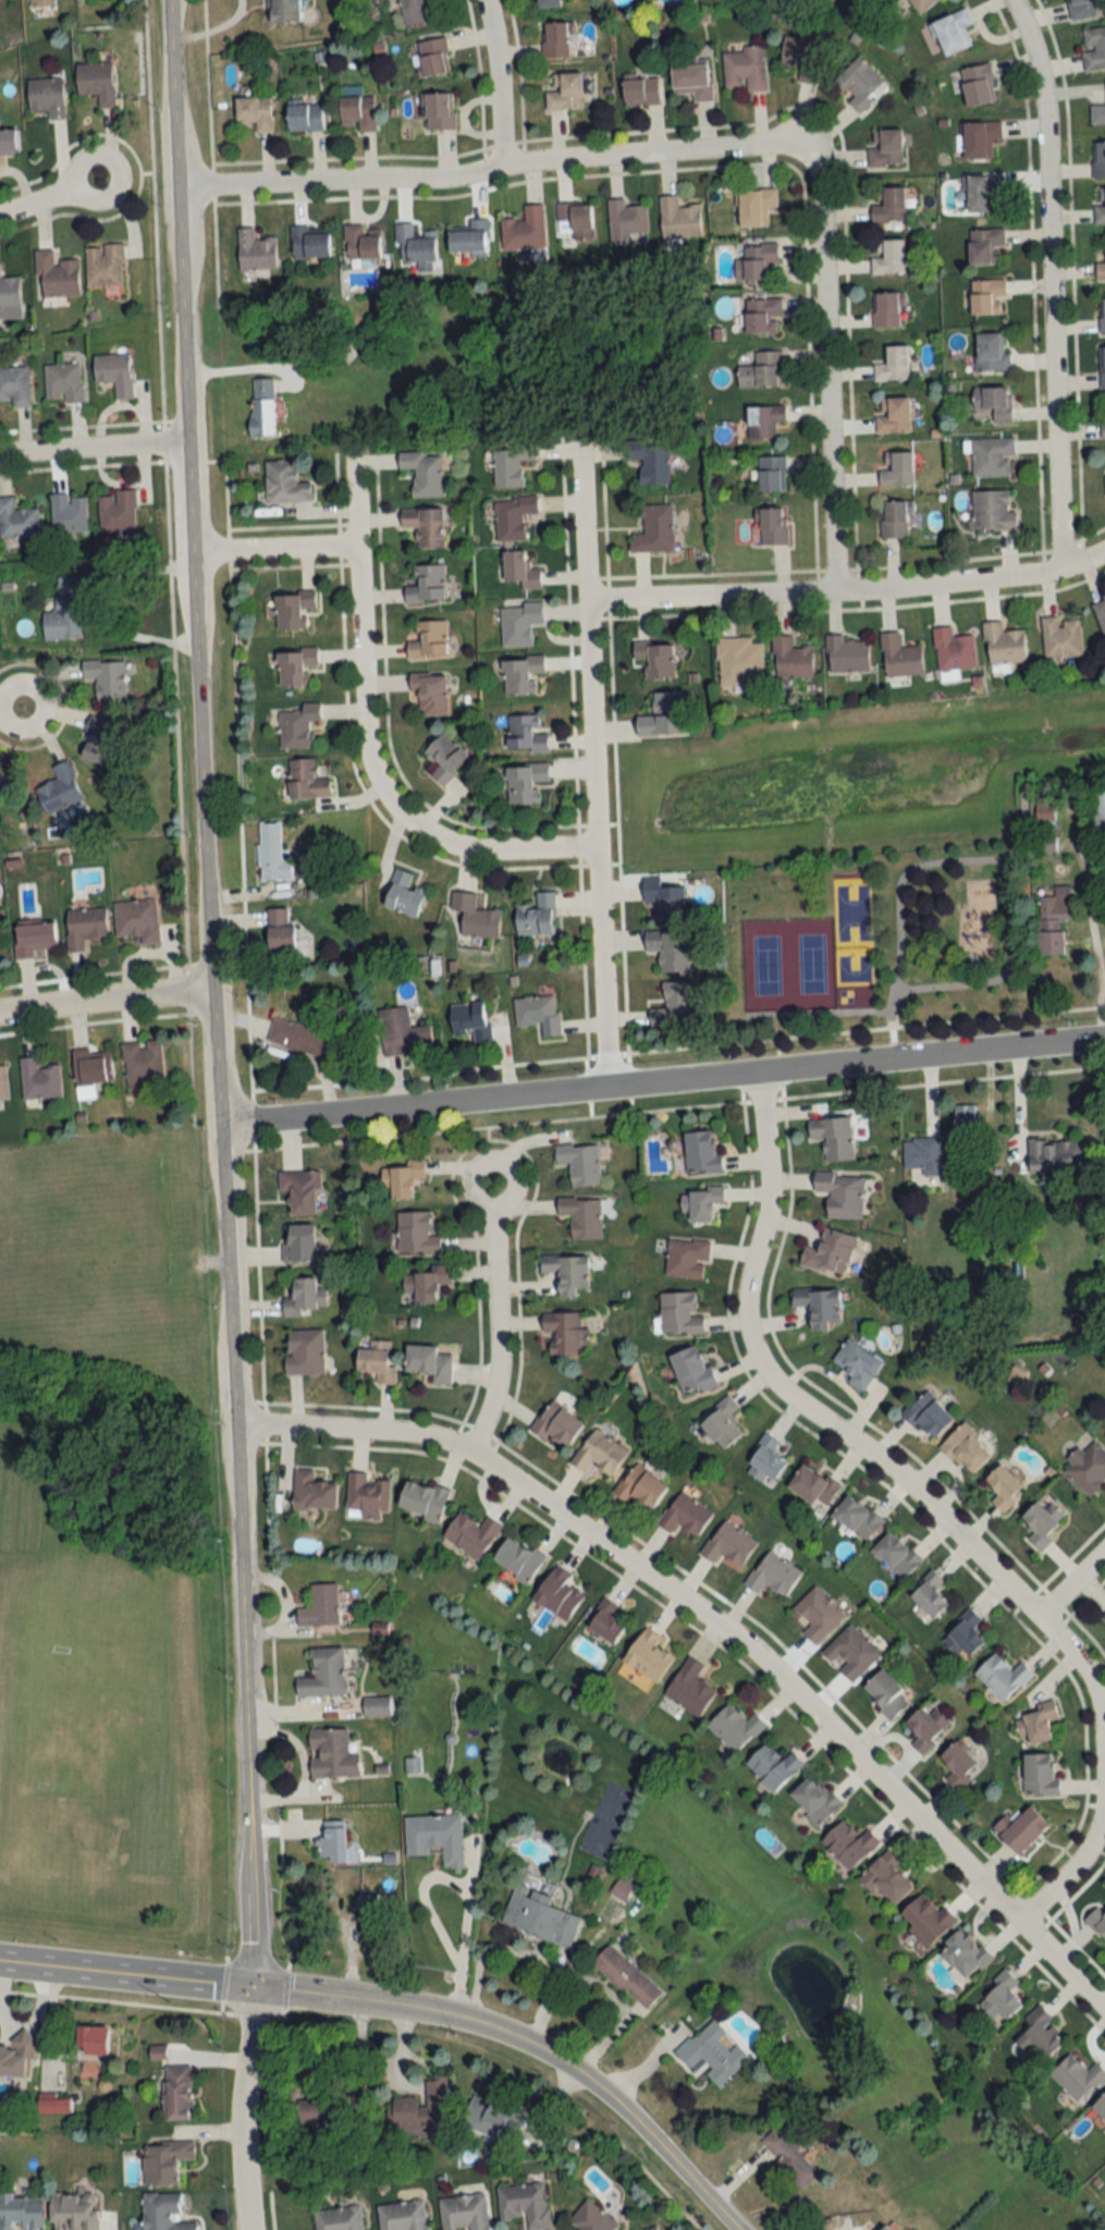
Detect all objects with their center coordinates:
building: (26, 0)
building: (50, 0)
building: (391, 0)
building: (547, 3)
building: (921, 4)
building: (1084, 9)
building: (284, 11)
building: (416, 11)
road: (213, 26)
building: (951, 33)
building: (555, 40)
building: (1093, 48)
building: (800, 57)
building: (433, 58)
building: (745, 69)
building: (692, 81)
building: (96, 83)
road: (494, 84)
building: (858, 84)
building: (978, 85)
building: (640, 91)
building: (565, 93)
building: (47, 98)
building: (357, 112)
building: (438, 112)
building: (254, 114)
building: (1097, 115)
building: (305, 118)
building: (980, 140)
building: (9, 143)
building: (885, 148)
building: (1098, 161)
road: (493, 171)
building: (982, 193)
road: (47, 195)
building: (887, 206)
building: (1098, 206)
building: (754, 207)
building: (678, 218)
building: (627, 220)
building: (574, 222)
building: (524, 229)
building: (470, 237)
building: (309, 243)
building: (361, 243)
building: (416, 244)
building: (986, 246)
building: (255, 250)
building: (887, 257)
building: (757, 262)
building: (103, 264)
building: (1101, 268)
building: (56, 274)
road: (1047, 281)
building: (9, 292)
building: (987, 296)
building: (886, 309)
building: (1102, 314)
building: (762, 315)
building: (991, 351)
building: (895, 362)
building: (1103, 365)
building: (762, 369)
building: (114, 371)
road: (824, 372)
building: (63, 381)
building: (14, 384)
building: (992, 403)
building: (261, 406)
building: (894, 414)
building: (763, 419)
building: (1103, 429)
road: (95, 449)
building: (992, 456)
building: (650, 460)
building: (509, 465)
building: (896, 467)
building: (422, 471)
building: (771, 471)
building: (284, 482)
building: (993, 510)
building: (118, 511)
building: (67, 512)
building: (512, 516)
building: (16, 518)
building: (895, 518)
building: (423, 525)
building: (769, 525)
building: (654, 529)
road: (273, 550)
road: (168, 562)
building: (519, 569)
building: (425, 583)
road: (847, 590)
road: (836, 601)
building: (293, 608)
building: (63, 610)
building: (1101, 614)
building: (518, 622)
building: (1060, 637)
building: (428, 639)
building: (1003, 642)
building: (953, 648)
building: (846, 653)
building: (899, 657)
building: (656, 658)
building: (790, 658)
building: (739, 660)
building: (295, 664)
building: (520, 672)
building: (106, 678)
building: (430, 693)
road: (10, 703)
building: (663, 714)
building: (297, 725)
building: (526, 733)
building: (98, 739)
road: (361, 740)
building: (444, 757)
road: (589, 764)
building: (306, 780)
building: (525, 781)
building: (59, 788)
building: (1098, 809)
building: (271, 854)
road: (959, 855)
building: (403, 893)
building: (664, 896)
park: (850, 907)
building: (475, 916)
building: (536, 916)
building: (137, 919)
building: (1053, 922)
building: (84, 926)
building: (280, 929)
park: (876, 931)
building: (34, 938)
road: (209, 943)
road: (1095, 948)
building: (670, 949)
park: (788, 963)
road: (1005, 967)
park: (854, 975)
road: (106, 998)
building: (671, 1003)
building: (538, 1013)
building: (470, 1019)
building: (403, 1031)
building: (305, 1033)
road: (648, 1047)
building: (143, 1064)
building: (90, 1070)
building: (38, 1079)
road: (661, 1082)
building: (2, 1083)
road: (1021, 1094)
building: (963, 1118)
building: (833, 1137)
building: (701, 1153)
building: (923, 1154)
building: (1055, 1156)
building: (579, 1162)
building: (400, 1179)
building: (300, 1190)
building: (840, 1192)
building: (700, 1203)
building: (581, 1215)
building: (416, 1233)
building: (297, 1242)
building: (830, 1252)
building: (686, 1258)
building: (566, 1272)
building: (428, 1283)
building: (304, 1297)
building: (819, 1306)
building: (679, 1314)
road: (493, 1315)
building: (564, 1332)
building: (304, 1351)
building: (376, 1361)
building: (429, 1362)
building: (855, 1362)
building: (691, 1371)
building: (926, 1416)
building: (720, 1422)
building: (556, 1423)
building: (1104, 1434)
building: (965, 1449)
building: (599, 1453)
building: (764, 1461)
building: (1088, 1468)
building: (639, 1486)
building: (812, 1486)
building: (1004, 1487)
building: (312, 1491)
building: (367, 1496)
building: (422, 1499)
road: (925, 1502)
building: (684, 1515)
building: (856, 1517)
building: (1041, 1522)
building: (470, 1533)
building: (727, 1544)
building: (896, 1554)
building: (517, 1559)
building: (772, 1575)
road: (1070, 1581)
building: (557, 1593)
building: (928, 1595)
building: (320, 1606)
building: (817, 1615)
building: (1104, 1615)
building: (605, 1621)
road: (717, 1626)
building: (963, 1635)
building: (850, 1653)
building: (648, 1656)
building: (324, 1674)
building: (1002, 1677)
building: (689, 1688)
building: (885, 1695)
building: (377, 1706)
building: (1035, 1724)
building: (734, 1727)
building: (926, 1728)
park: (108, 1737)
building: (331, 1754)
building: (957, 1765)
building: (773, 1766)
building: (1040, 1775)
building: (814, 1802)
building: (1021, 1829)
building: (435, 1837)
building: (332, 1841)
building: (848, 1843)
building: (885, 1877)
building: (621, 1889)
road: (427, 1901)
building: (365, 1912)
building: (539, 1916)
building: (925, 1920)
building: (1096, 1923)
road: (248, 1936)
road: (463, 1944)
building: (963, 1953)
road: (125, 1973)
building: (627, 1977)
road: (311, 1995)
building: (1000, 1997)
building: (1038, 2034)
building: (91, 2041)
building: (713, 2051)
building: (15, 2055)
road: (577, 2075)
building: (1077, 2078)
building: (176, 2093)
building: (53, 2106)
road: (241, 2107)
building: (1100, 2107)
building: (421, 2108)
building: (322, 2109)
building: (492, 2119)
building: (790, 2158)
building: (163, 2162)
building: (524, 2205)
building: (73, 2211)
building: (21, 2213)
building: (163, 2213)
building: (463, 2213)
building: (402, 2216)
building: (591, 2218)
building: (337, 2219)
building: (883, 2228)

